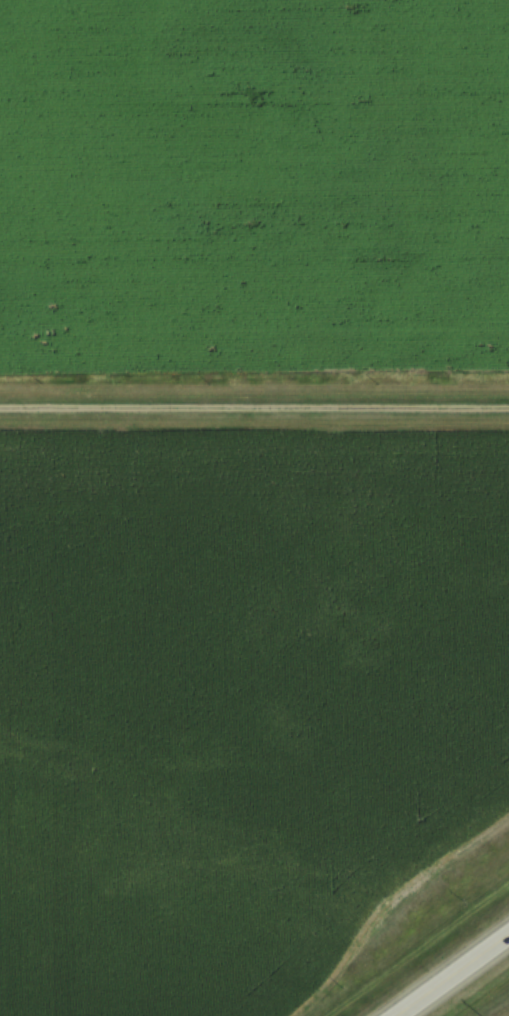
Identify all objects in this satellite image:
road: (454, 976)

